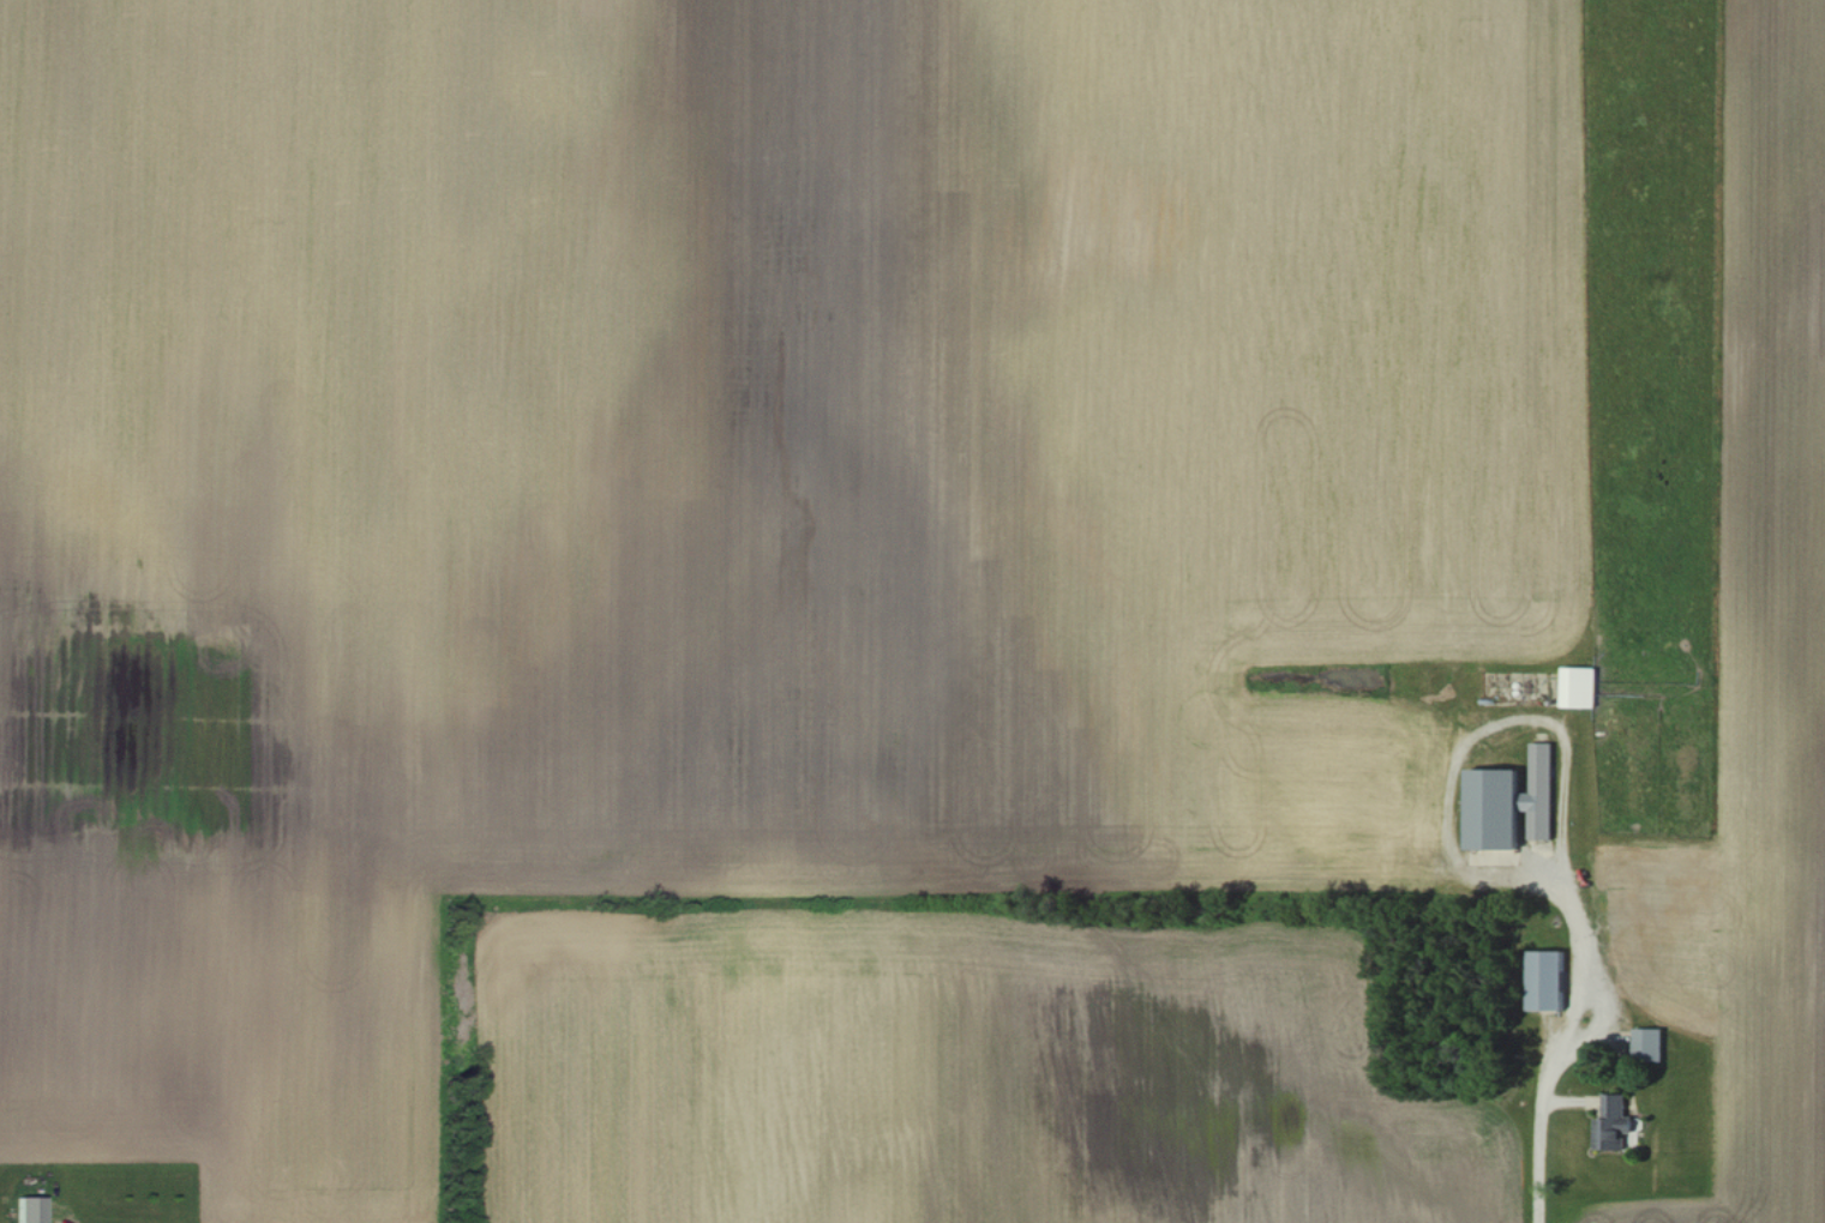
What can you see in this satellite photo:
building: (1497, 801)
building: (1548, 1001)
road: (1601, 1006)
road: (1574, 1011)
road: (1538, 1174)

